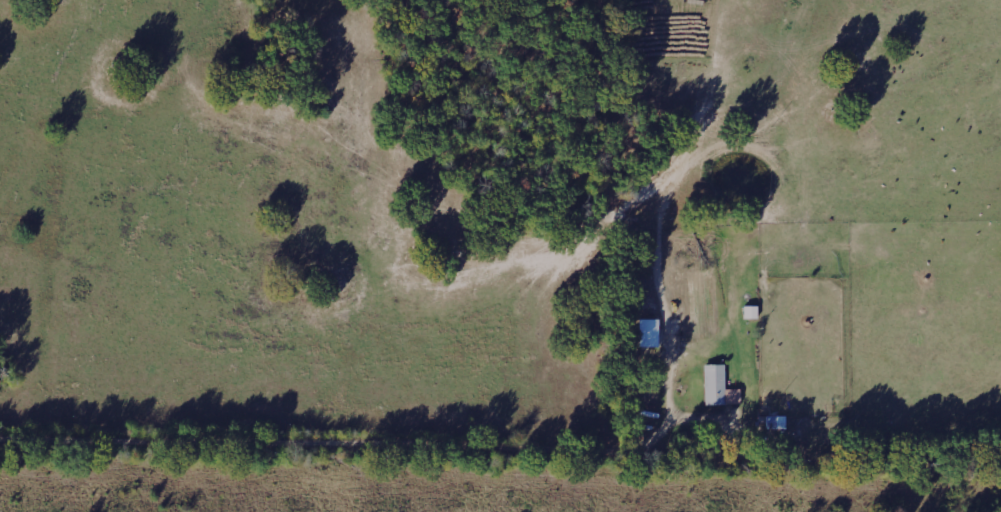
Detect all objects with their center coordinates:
building: (721, 388)

